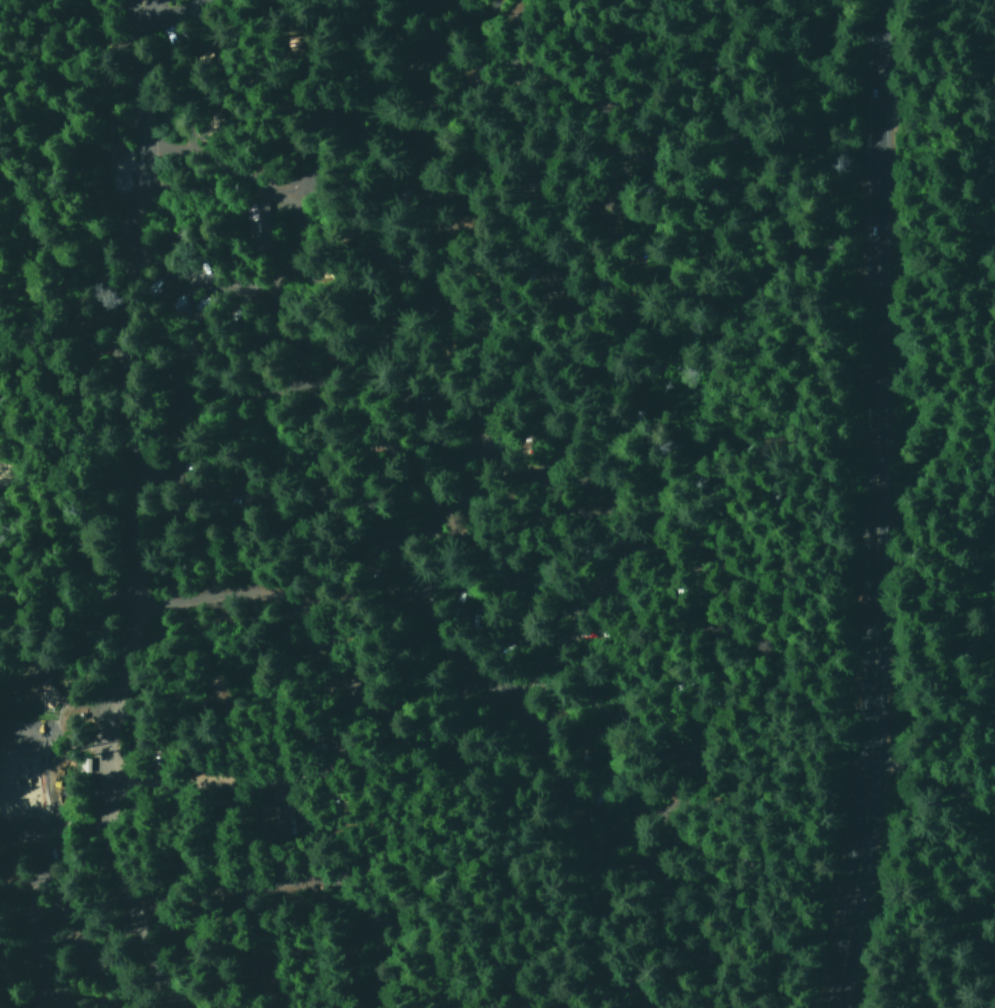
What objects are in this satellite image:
parking lot: (195, 1)
road: (222, 1)
road: (190, 18)
road: (389, 18)
road: (487, 23)
road: (276, 58)
road: (356, 92)
building: (108, 152)
road: (344, 160)
road: (249, 168)
road: (435, 186)
road: (589, 192)
parking lot: (140, 224)
building: (258, 225)
road: (143, 248)
road: (377, 259)
road: (244, 283)
road: (257, 392)
road: (380, 457)
road: (868, 505)
road: (347, 512)
parking lot: (368, 549)
road: (555, 612)
road: (700, 642)
building: (38, 692)
road: (317, 693)
parking lot: (50, 722)
road: (63, 733)
road: (129, 760)
building: (12, 831)
road: (33, 870)
road: (291, 883)

